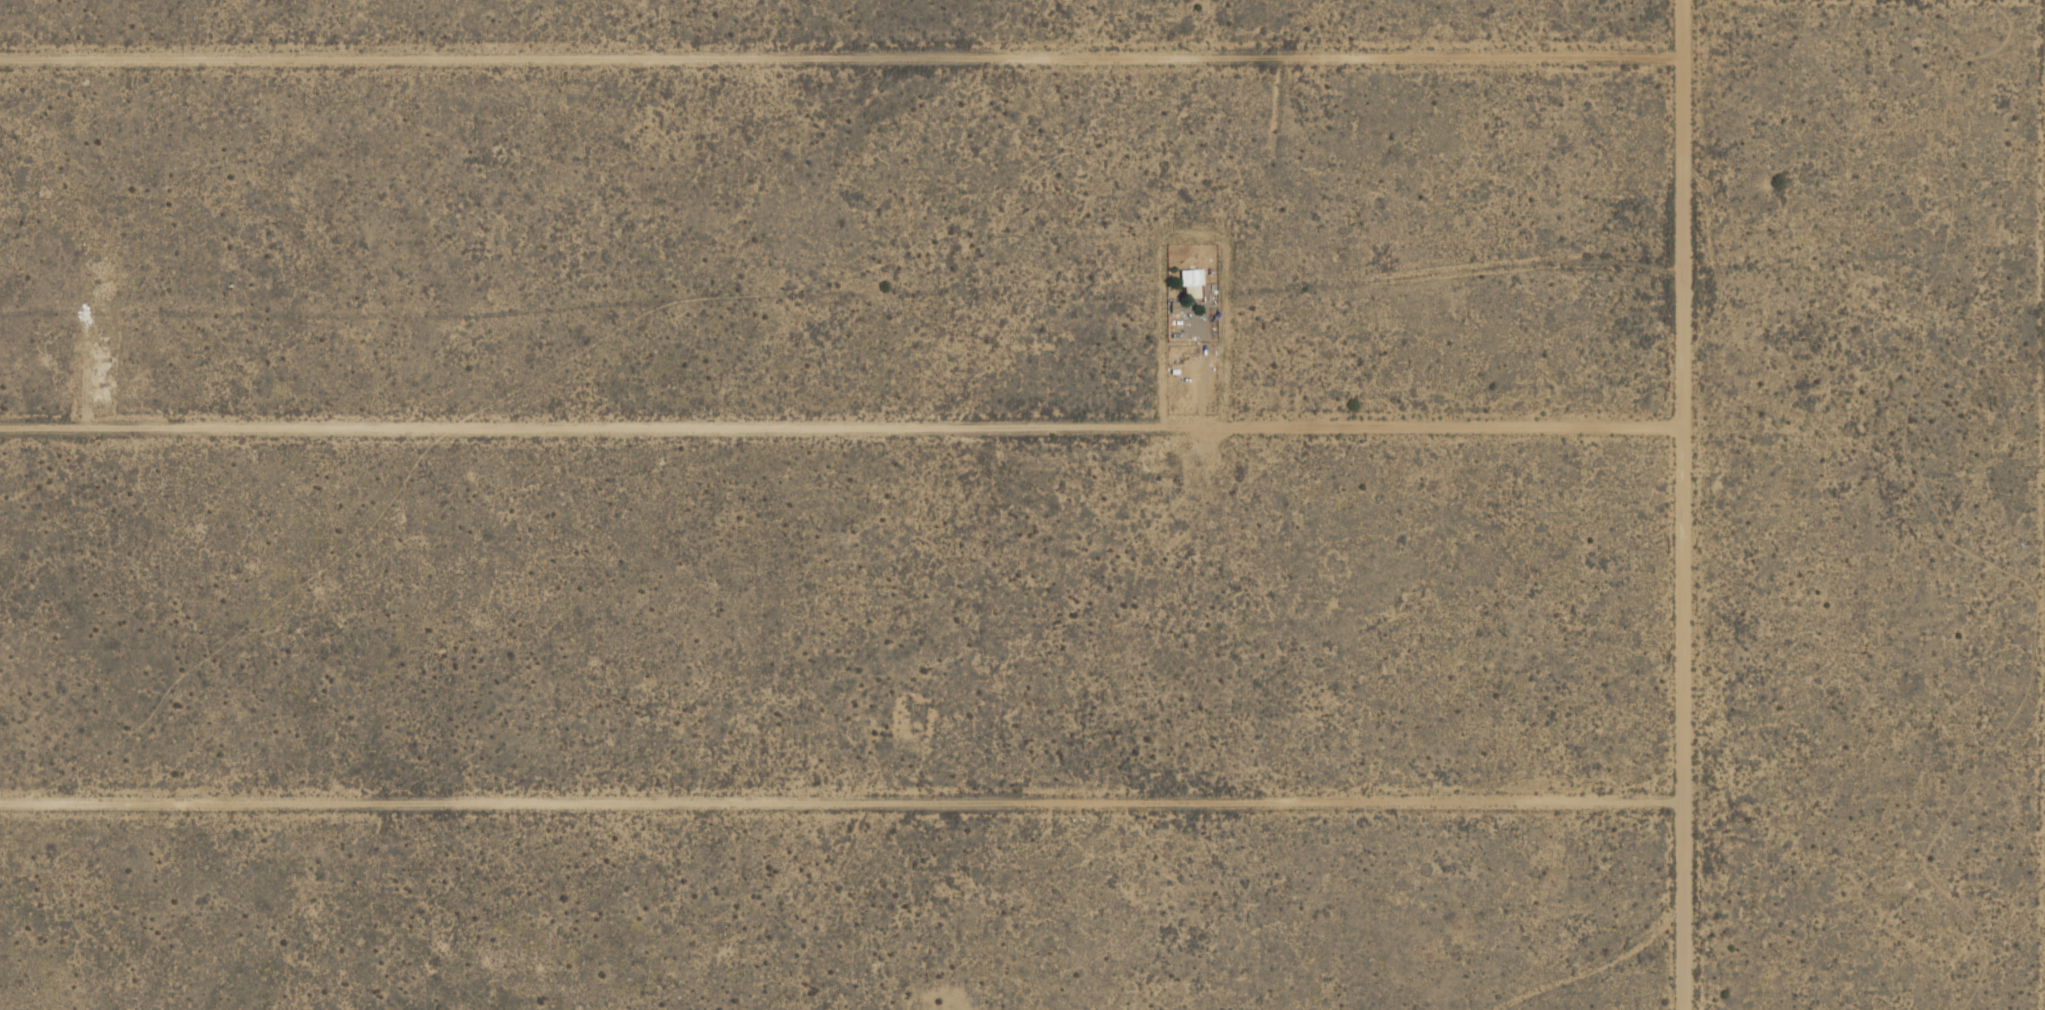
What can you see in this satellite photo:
road: (1682, 29)
road: (842, 57)
building: (1192, 285)
road: (1204, 370)
road: (839, 426)
road: (1680, 533)
road: (841, 800)

